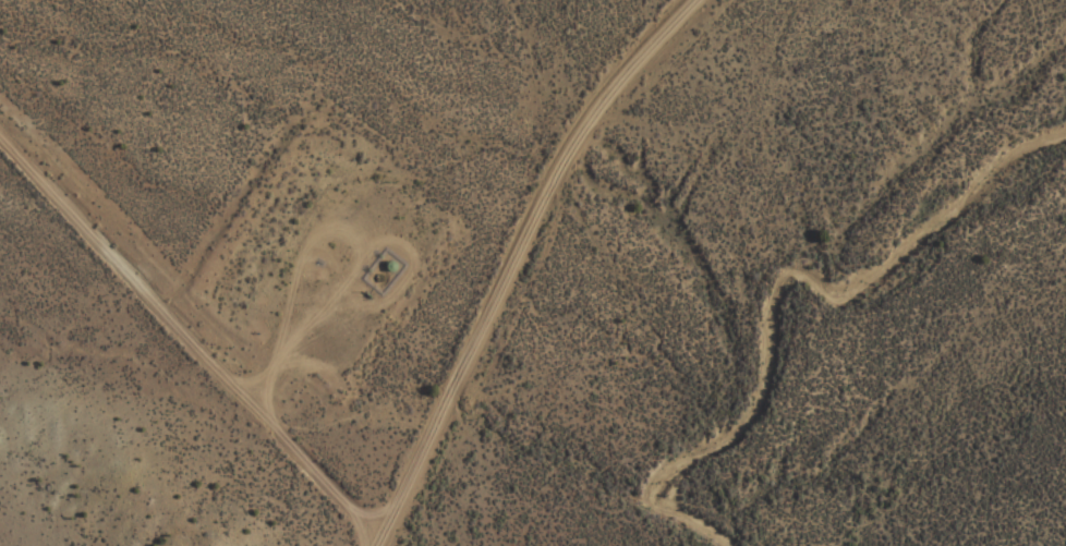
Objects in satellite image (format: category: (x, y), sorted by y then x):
road: (465, 253)
river: (766, 283)
road: (166, 344)

